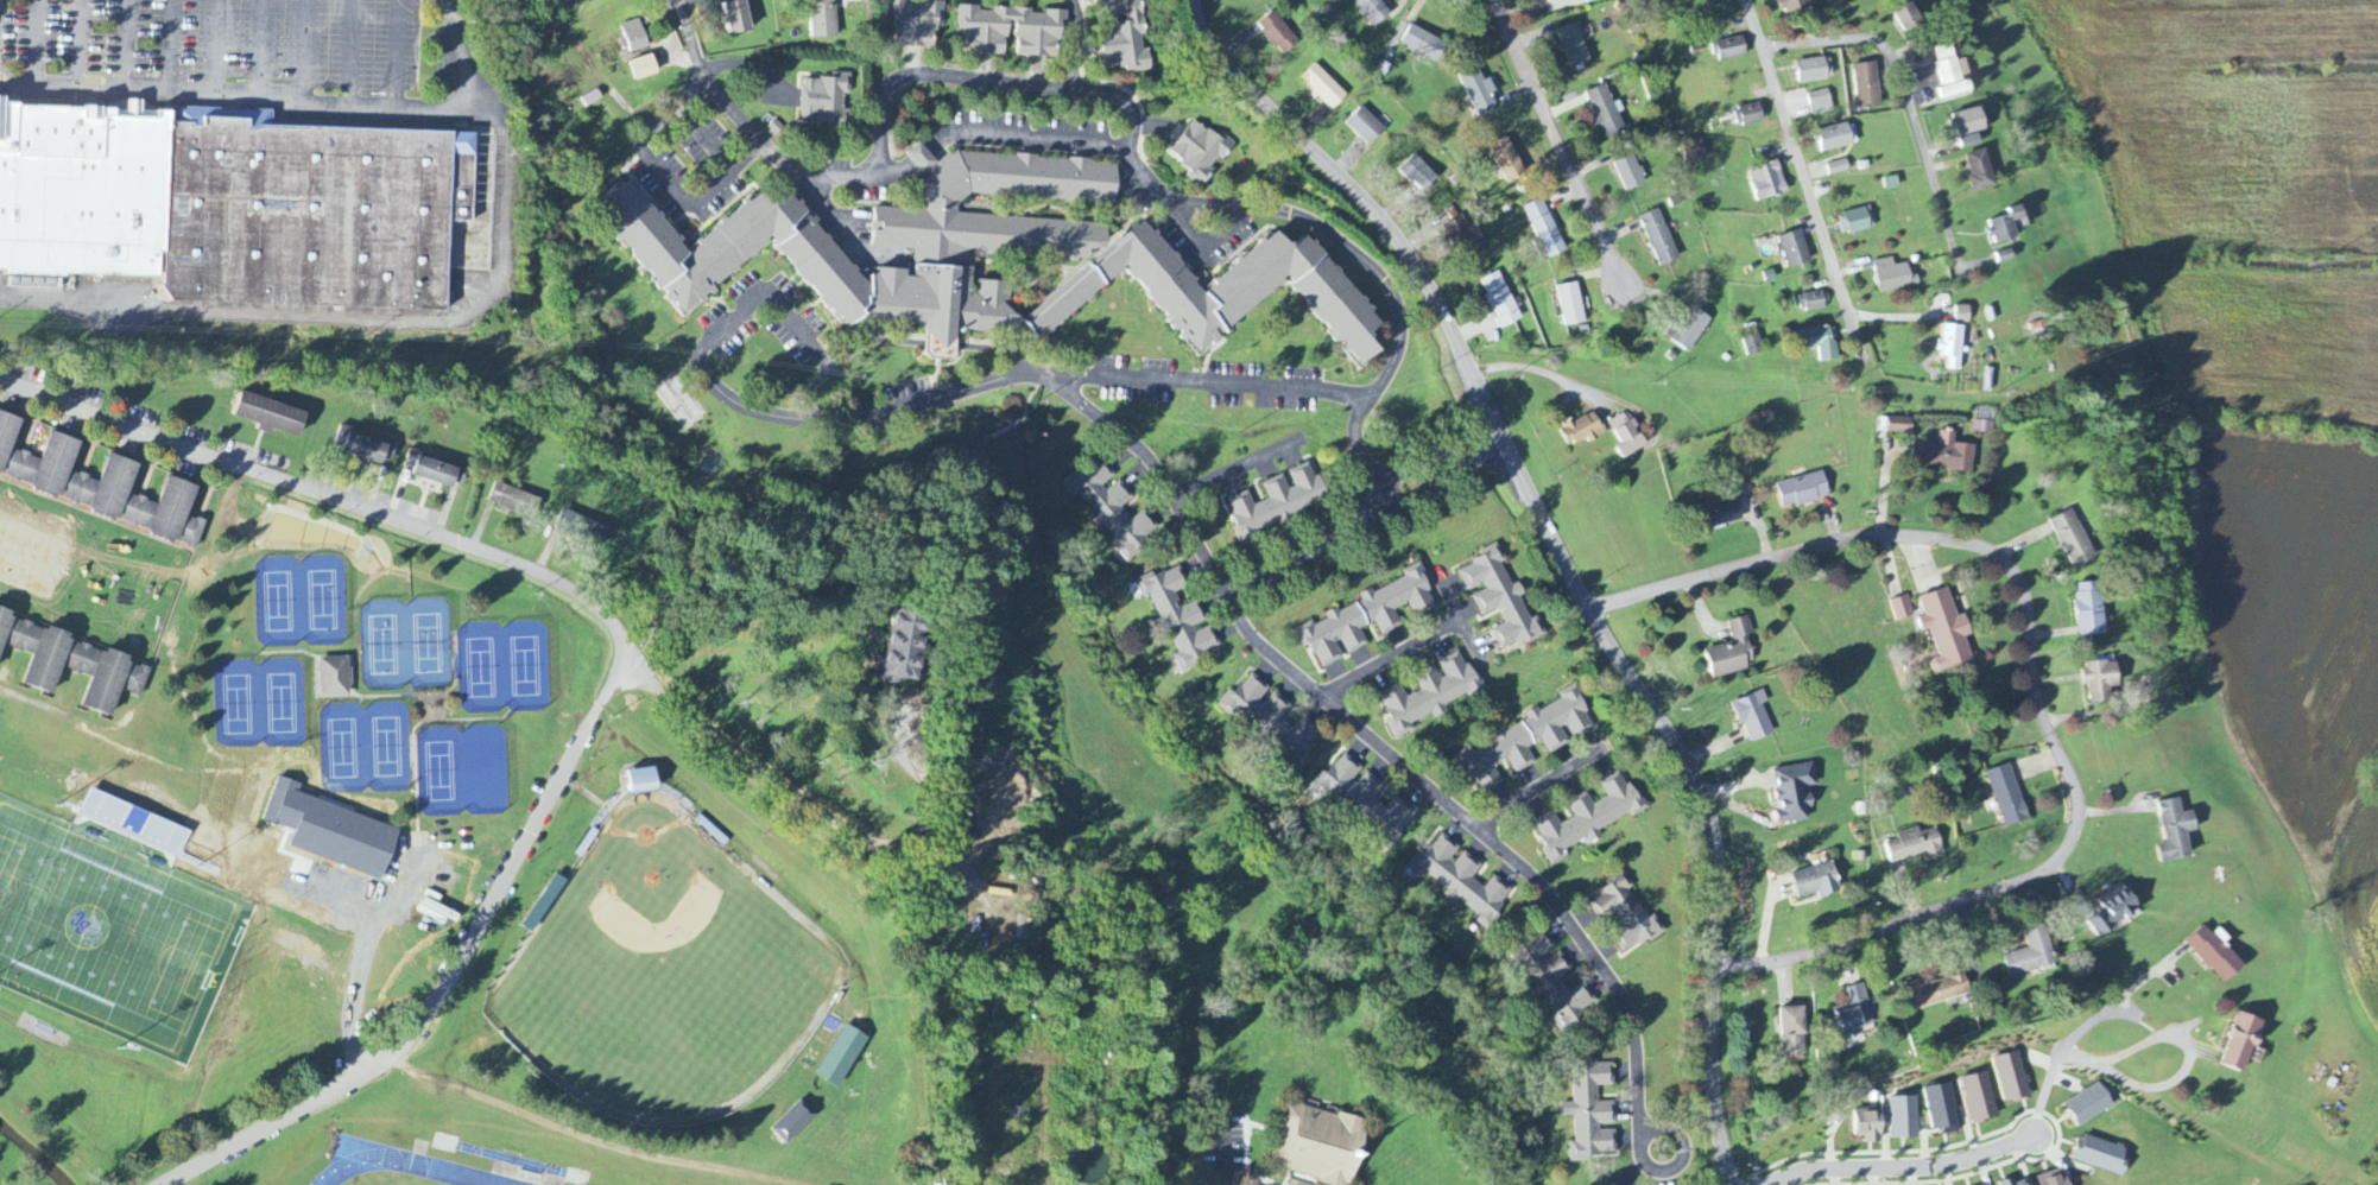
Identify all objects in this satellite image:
building: (1545, 0)
building: (1589, 1)
building: (1795, 6)
building: (1373, 11)
road: (671, 13)
building: (738, 17)
building: (1908, 18)
building: (823, 19)
building: (915, 24)
building: (1277, 33)
building: (1124, 36)
building: (634, 37)
parking lot: (223, 38)
building: (1039, 42)
road: (34, 43)
road: (81, 44)
road: (1074, 44)
building: (1423, 44)
road: (127, 45)
road: (172, 46)
building: (1574, 46)
road: (217, 47)
road: (263, 49)
building: (1729, 49)
road: (306, 50)
road: (349, 51)
road: (396, 52)
road: (464, 55)
building: (1948, 65)
building: (644, 68)
building: (1815, 70)
road: (986, 82)
building: (1866, 85)
building: (1323, 87)
building: (1953, 90)
building: (1479, 93)
road: (241, 97)
road: (1910, 97)
building: (826, 100)
building: (1820, 103)
building: (1605, 112)
building: (1748, 115)
building: (1969, 122)
building: (1364, 127)
road: (702, 138)
building: (1836, 138)
building: (1969, 141)
road: (1558, 148)
building: (1200, 151)
building: (1695, 151)
road: (1131, 158)
building: (1506, 160)
building: (1839, 167)
building: (1980, 171)
road: (662, 173)
building: (1630, 173)
building: (1418, 175)
road: (1804, 177)
building: (1769, 182)
building: (1891, 183)
building: (82, 191)
road: (828, 210)
building: (314, 213)
building: (1855, 221)
building: (2009, 226)
building: (1544, 229)
building: (1461, 234)
building: (1659, 237)
building: (1795, 249)
power tower: (2320, 258)
building: (1895, 277)
building: (1500, 300)
building: (1813, 303)
building: (1570, 305)
building: (1963, 315)
road: (349, 317)
building: (1688, 330)
building: (1822, 343)
road: (943, 344)
building: (1753, 346)
building: (1952, 347)
road: (999, 350)
road: (846, 355)
power tower: (1438, 370)
road: (1532, 370)
road: (1213, 384)
power tower: (1657, 384)
power tower: (1999, 393)
road: (1031, 394)
building: (264, 412)
road: (767, 414)
building: (1899, 426)
road: (1006, 427)
building: (1582, 430)
building: (1627, 436)
building: (361, 444)
building: (1944, 455)
building: (430, 467)
road: (1233, 468)
road: (1155, 471)
building: (102, 487)
building: (1803, 490)
building: (511, 498)
building: (1279, 502)
building: (1111, 509)
building: (1725, 512)
road: (782, 519)
building: (577, 526)
building: (2072, 539)
road: (1560, 553)
park: (302, 598)
park: (324, 598)
building: (1500, 600)
park: (279, 601)
building: (1902, 609)
building: (2089, 609)
building: (1367, 617)
building: (1179, 619)
building: (1946, 632)
building: (900, 641)
park: (405, 644)
park: (428, 644)
park: (384, 646)
building: (1733, 652)
road: (1391, 655)
building: (72, 660)
park: (501, 666)
park: (524, 666)
park: (479, 667)
road: (622, 671)
building: (335, 678)
road: (2034, 680)
building: (2100, 680)
building: (1431, 693)
park: (258, 702)
park: (280, 703)
park: (236, 704)
building: (1753, 717)
building: (1270, 718)
road: (1362, 730)
building: (1528, 740)
park: (365, 747)
park: (387, 747)
park: (342, 748)
park: (463, 771)
park: (485, 771)
park: (441, 773)
building: (637, 779)
road: (1537, 787)
building: (1795, 793)
building: (2007, 796)
building: (1362, 798)
building: (278, 800)
road: (821, 815)
building: (1588, 818)
building: (2176, 831)
building: (1915, 845)
parking lot: (391, 876)
building: (1461, 880)
building: (1817, 882)
building: (539, 902)
building: (2114, 911)
building: (1625, 914)
stadium: (110, 929)
building: (2031, 953)
building: (2216, 953)
road: (363, 959)
park: (666, 977)
building: (1554, 982)
building: (1936, 993)
road: (2124, 997)
building: (1854, 1012)
building: (1794, 1033)
building: (2243, 1044)
road: (2068, 1053)
building: (840, 1056)
road: (2187, 1071)
building: (2013, 1079)
road: (2044, 1091)
building: (1980, 1098)
building: (2089, 1105)
building: (1942, 1108)
building: (1592, 1113)
building: (1904, 1119)
building: (793, 1123)
building: (1867, 1126)
building: (1317, 1142)
road: (1227, 1147)
building: (2101, 1155)
track: (382, 1167)
road: (1647, 1167)
road: (1903, 1167)
building: (2055, 1178)
building: (2015, 1183)

